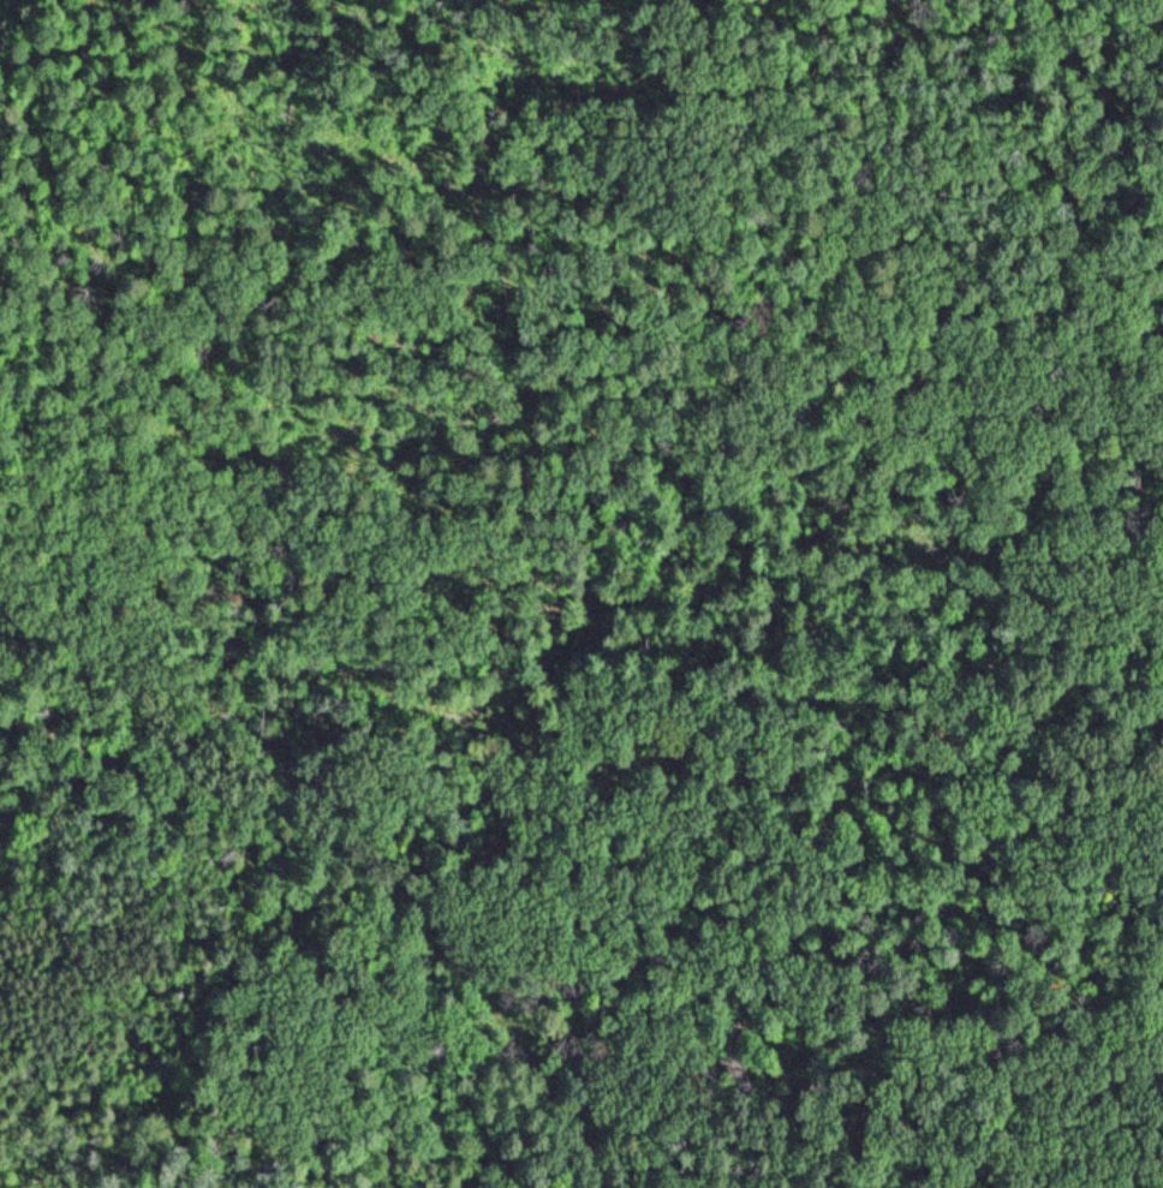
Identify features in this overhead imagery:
road: (292, 920)

